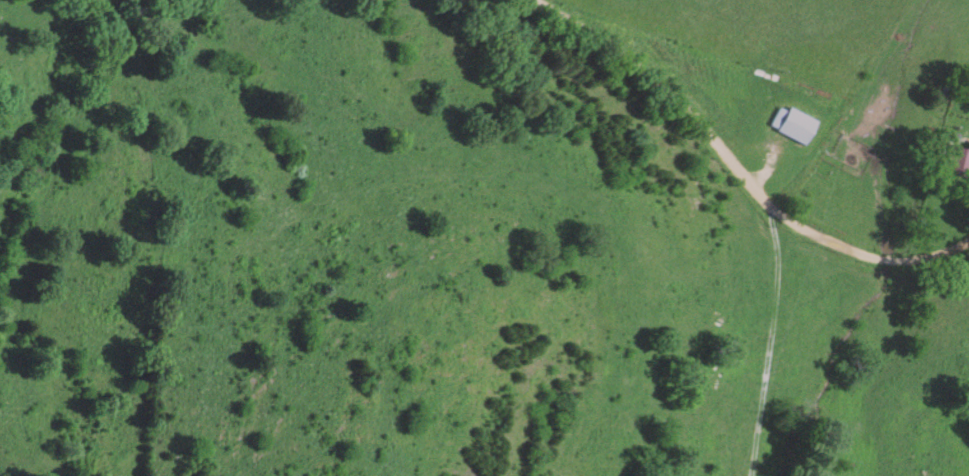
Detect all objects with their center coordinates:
building: (788, 124)
building: (954, 161)
road: (732, 185)

